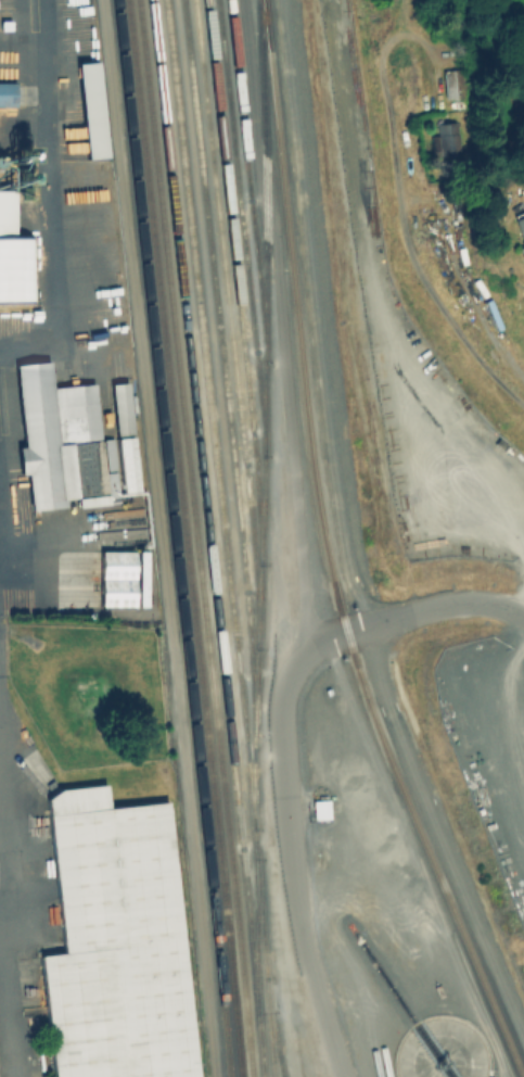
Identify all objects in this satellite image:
road: (46, 25)
building: (452, 83)
building: (7, 93)
building: (90, 112)
building: (445, 138)
railway: (248, 179)
railway: (133, 182)
road: (49, 200)
building: (7, 214)
railway: (265, 225)
building: (519, 229)
building: (17, 270)
railway: (235, 280)
road: (436, 304)
railway: (228, 320)
road: (281, 321)
railway: (221, 365)
building: (122, 405)
railway: (260, 411)
building: (60, 439)
building: (108, 452)
building: (127, 461)
railway: (184, 537)
railway: (194, 537)
railway: (208, 537)
railway: (223, 537)
road: (158, 538)
railway: (327, 554)
building: (120, 578)
road: (462, 606)
railway: (191, 720)
road: (283, 813)
road: (3, 910)
railway: (255, 935)
building: (114, 942)
railway: (381, 973)
railway: (440, 1014)
railway: (272, 1027)

